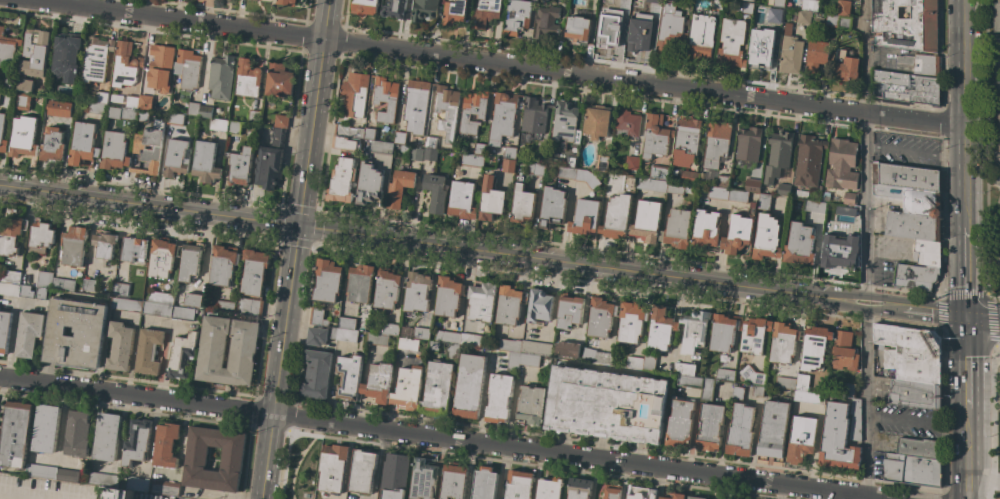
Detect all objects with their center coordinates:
building: (254, 0)
building: (750, 0)
building: (264, 1)
building: (622, 1)
building: (654, 1)
building: (286, 2)
building: (775, 3)
building: (808, 4)
building: (716, 5)
building: (364, 6)
building: (843, 7)
building: (396, 9)
building: (424, 9)
building: (745, 9)
building: (453, 11)
building: (486, 12)
building: (774, 13)
building: (516, 16)
building: (801, 16)
building: (997, 16)
building: (831, 19)
building: (546, 21)
building: (844, 22)
building: (906, 24)
building: (578, 26)
building: (669, 27)
building: (610, 31)
building: (700, 36)
building: (641, 37)
building: (731, 42)
building: (997, 45)
building: (7, 48)
building: (760, 48)
building: (34, 52)
building: (790, 52)
building: (817, 56)
road: (980, 57)
building: (65, 58)
building: (95, 59)
road: (495, 62)
building: (921, 64)
building: (124, 65)
building: (845, 65)
building: (160, 67)
building: (997, 68)
building: (186, 69)
building: (220, 77)
building: (247, 78)
building: (279, 80)
building: (9, 83)
building: (24, 84)
building: (927, 86)
building: (354, 94)
building: (385, 98)
building: (132, 100)
building: (22, 101)
building: (144, 101)
building: (416, 105)
building: (102, 106)
building: (59, 108)
building: (193, 108)
building: (446, 110)
building: (472, 110)
building: (205, 111)
road: (314, 112)
building: (127, 113)
road: (962, 114)
building: (142, 115)
building: (253, 116)
building: (502, 117)
building: (533, 118)
building: (175, 119)
building: (281, 121)
building: (564, 121)
building: (596, 121)
building: (627, 123)
building: (999, 123)
building: (218, 125)
building: (1, 126)
building: (234, 127)
building: (348, 130)
building: (369, 133)
building: (275, 136)
building: (655, 136)
building: (23, 137)
building: (399, 137)
building: (686, 141)
building: (430, 142)
building: (716, 142)
building: (83, 143)
building: (345, 143)
building: (52, 144)
building: (748, 144)
building: (139, 147)
building: (381, 148)
building: (479, 148)
building: (114, 151)
road: (864, 151)
building: (509, 152)
road: (913, 152)
building: (416, 154)
building: (429, 154)
building: (777, 154)
road: (983, 155)
building: (540, 156)
building: (176, 158)
building: (472, 160)
building: (572, 160)
building: (205, 162)
building: (602, 162)
building: (631, 162)
building: (508, 165)
building: (807, 165)
building: (841, 165)
building: (240, 166)
building: (268, 166)
building: (536, 168)
building: (659, 171)
building: (565, 172)
building: (906, 176)
building: (690, 177)
building: (587, 178)
building: (342, 180)
building: (722, 181)
building: (998, 181)
building: (629, 183)
building: (369, 184)
building: (652, 184)
building: (752, 184)
building: (399, 187)
building: (675, 187)
building: (783, 189)
building: (435, 192)
building: (718, 193)
building: (738, 196)
building: (825, 196)
building: (849, 198)
building: (999, 199)
building: (461, 200)
building: (490, 200)
building: (764, 202)
road: (149, 205)
building: (522, 205)
building: (814, 206)
building: (552, 207)
building: (752, 209)
building: (912, 212)
building: (616, 216)
building: (585, 217)
building: (646, 221)
traffic signals: (299, 226)
building: (677, 229)
building: (705, 230)
building: (737, 234)
building: (11, 235)
building: (41, 237)
building: (766, 238)
building: (104, 244)
building: (799, 245)
building: (73, 246)
building: (133, 248)
building: (840, 251)
building: (926, 252)
building: (161, 257)
building: (189, 261)
building: (223, 265)
road: (581, 265)
building: (253, 271)
road: (965, 272)
building: (9, 276)
building: (915, 276)
building: (44, 279)
building: (327, 281)
building: (360, 283)
building: (62, 284)
building: (88, 285)
building: (387, 288)
building: (9, 289)
building: (120, 289)
building: (26, 291)
building: (416, 292)
building: (40, 293)
road: (972, 295)
building: (448, 296)
building: (160, 297)
building: (193, 299)
building: (481, 302)
building: (126, 304)
building: (509, 304)
building: (539, 305)
building: (224, 306)
building: (250, 306)
road: (883, 307)
building: (157, 309)
building: (569, 310)
building: (182, 313)
road: (934, 313)
building: (601, 316)
building: (317, 317)
traffic signals: (966, 317)
road: (982, 319)
building: (346, 322)
building: (631, 322)
building: (660, 328)
building: (388, 329)
building: (4, 331)
building: (693, 331)
building: (724, 331)
building: (28, 333)
building: (89, 333)
building: (421, 333)
building: (343, 334)
building: (754, 335)
building: (316, 336)
building: (377, 338)
building: (470, 339)
road: (11, 340)
building: (243, 343)
building: (783, 343)
building: (407, 344)
building: (119, 346)
building: (452, 346)
building: (814, 347)
road: (996, 348)
building: (567, 349)
building: (148, 351)
building: (844, 351)
building: (911, 351)
building: (533, 352)
building: (511, 353)
building: (586, 353)
building: (182, 355)
building: (602, 357)
road: (278, 362)
building: (642, 362)
road: (164, 363)
road: (966, 363)
building: (684, 369)
building: (316, 374)
building: (724, 374)
building: (348, 377)
building: (754, 379)
building: (689, 381)
building: (378, 382)
building: (785, 382)
building: (468, 386)
building: (438, 387)
building: (407, 388)
building: (707, 390)
building: (849, 390)
road: (484, 391)
building: (806, 392)
building: (738, 393)
building: (914, 393)
building: (499, 397)
road: (866, 401)
building: (606, 404)
building: (530, 405)
building: (855, 420)
road: (992, 422)
road: (61, 423)
building: (679, 423)
road: (917, 423)
building: (710, 427)
building: (45, 428)
building: (773, 428)
building: (740, 431)
building: (14, 434)
building: (77, 434)
building: (106, 436)
road: (151, 438)
road: (441, 438)
building: (802, 438)
building: (837, 439)
building: (136, 441)
road: (753, 442)
building: (999, 444)
building: (165, 445)
building: (919, 446)
road: (966, 454)
building: (195, 458)
road: (376, 464)
road: (381, 464)
building: (333, 467)
building: (912, 468)
building: (41, 471)
building: (362, 471)
building: (67, 475)
building: (395, 475)
building: (423, 478)
road: (982, 478)
building: (103, 479)
building: (453, 481)
building: (484, 483)
building: (136, 484)
building: (518, 484)
building: (164, 487)
building: (549, 487)
building: (578, 488)
building: (612, 491)
building: (637, 492)
road: (779, 492)
building: (118, 493)
building: (652, 494)
road: (830, 495)
building: (674, 496)
building: (695, 497)
building: (720, 498)
building: (724, 498)

